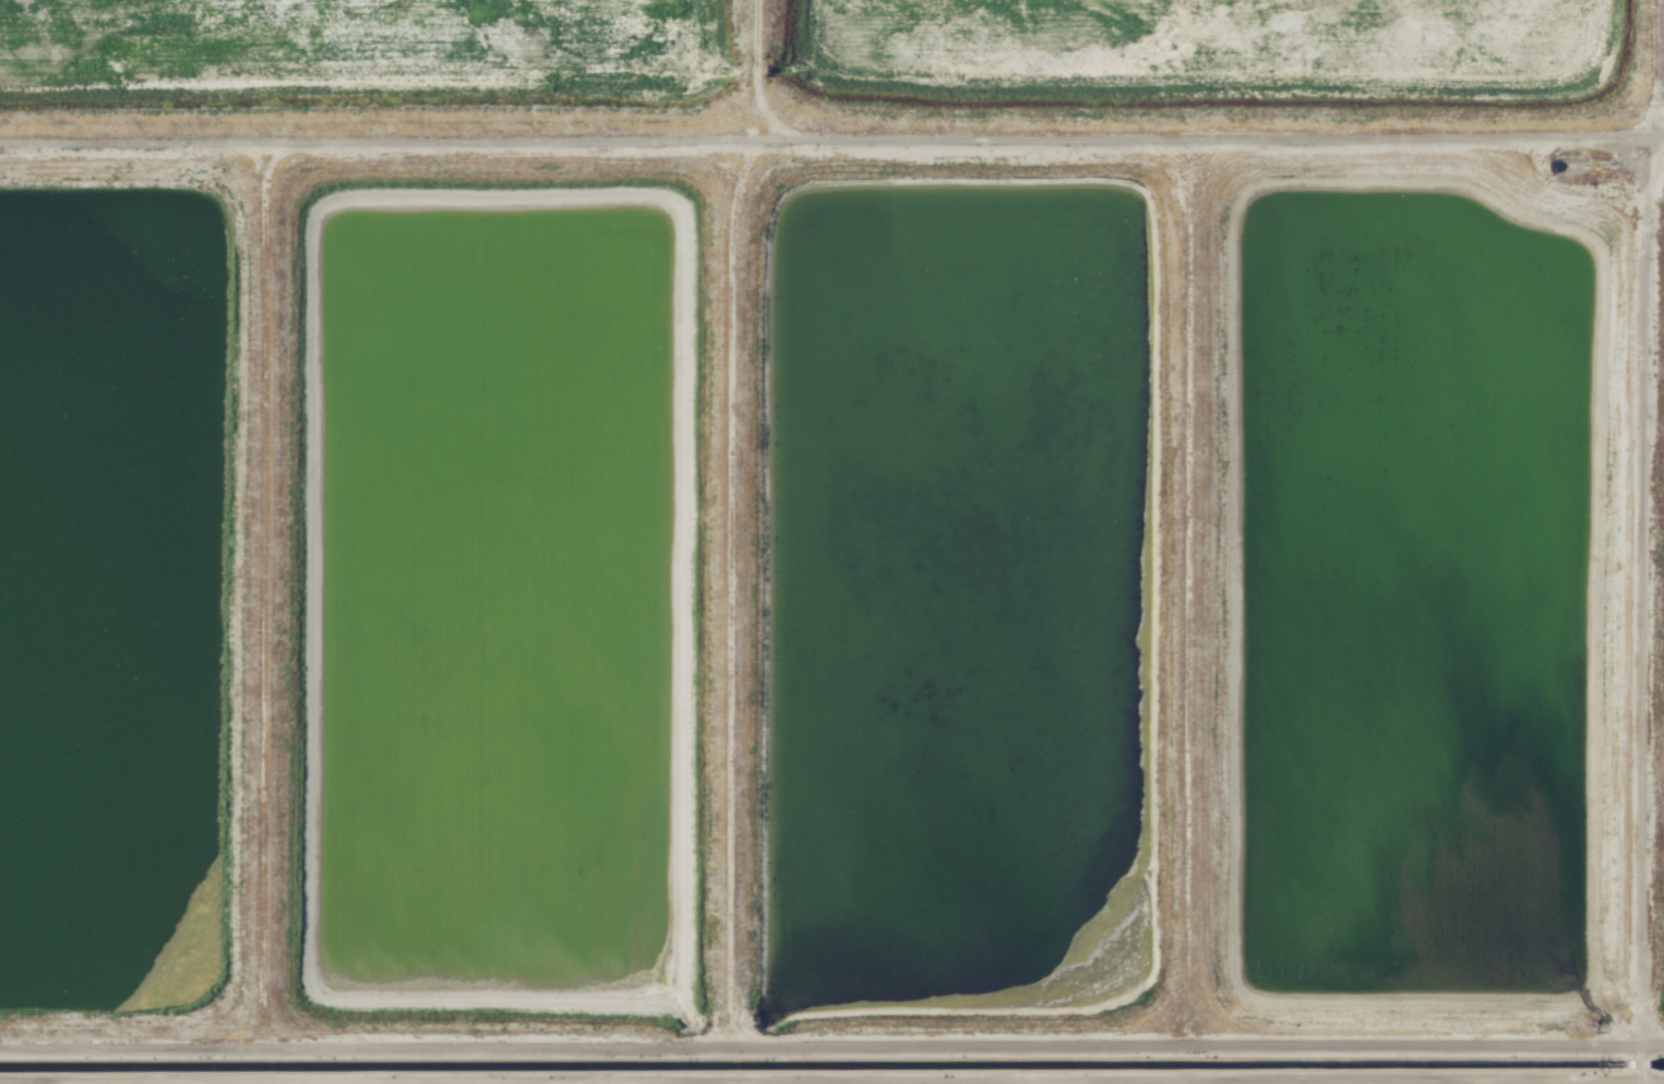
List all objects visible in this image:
road: (755, 38)
wastewater plant: (1190, 39)
wastewater plant: (332, 50)
road: (1662, 53)
road: (1656, 123)
road: (1178, 136)
road: (757, 137)
road: (1001, 140)
road: (1657, 140)
road: (132, 145)
road: (262, 515)
wastewater plant: (831, 542)
wastewater plant: (1418, 591)
wastewater plant: (963, 592)
wastewater plant: (504, 594)
wastewater plant: (101, 600)
road: (1187, 601)
road: (1413, 1038)
road: (500, 1041)
road: (831, 1080)
road: (749, 1081)
road: (1643, 1082)

